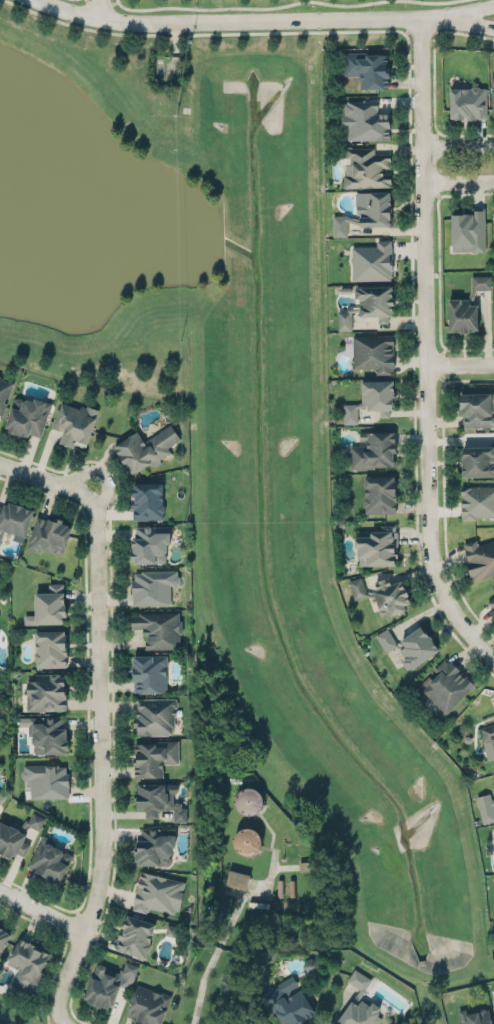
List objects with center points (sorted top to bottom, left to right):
road: (430, 1)
road: (250, 7)
road: (100, 9)
road: (457, 13)
road: (227, 23)
road: (421, 23)
road: (457, 26)
building: (367, 69)
road: (433, 81)
building: (492, 97)
building: (466, 103)
building: (364, 120)
road: (458, 146)
road: (411, 163)
road: (434, 164)
road: (459, 182)
building: (366, 213)
building: (493, 221)
building: (467, 229)
building: (372, 262)
road: (438, 268)
building: (481, 282)
building: (368, 306)
building: (462, 316)
road: (427, 350)
building: (373, 352)
road: (461, 364)
road: (428, 365)
building: (0, 376)
building: (4, 393)
building: (372, 400)
building: (476, 410)
building: (28, 418)
building: (74, 424)
building: (146, 448)
building: (373, 451)
building: (477, 462)
road: (47, 479)
road: (443, 491)
building: (379, 495)
building: (146, 501)
building: (477, 501)
building: (14, 519)
building: (48, 535)
building: (0, 539)
building: (150, 545)
building: (377, 547)
building: (479, 558)
building: (153, 586)
building: (382, 595)
building: (491, 602)
building: (47, 607)
building: (158, 629)
building: (385, 639)
building: (416, 646)
building: (49, 649)
road: (86, 666)
building: (149, 673)
building: (446, 685)
building: (45, 692)
road: (111, 695)
building: (154, 716)
building: (488, 734)
building: (45, 735)
building: (153, 757)
road: (99, 761)
building: (493, 775)
building: (46, 781)
building: (1, 798)
building: (248, 800)
building: (158, 801)
building: (485, 807)
building: (16, 838)
building: (247, 840)
building: (155, 845)
building: (50, 861)
building: (237, 879)
building: (157, 892)
road: (37, 895)
road: (41, 910)
road: (32, 919)
road: (79, 920)
building: (134, 937)
building: (3, 939)
building: (28, 964)
building: (310, 965)
road: (54, 970)
building: (107, 984)
building: (288, 998)
building: (493, 1003)
building: (358, 1004)
building: (147, 1006)
building: (475, 1016)
road: (61, 1020)
road: (61, 1021)
building: (240, 1022)

